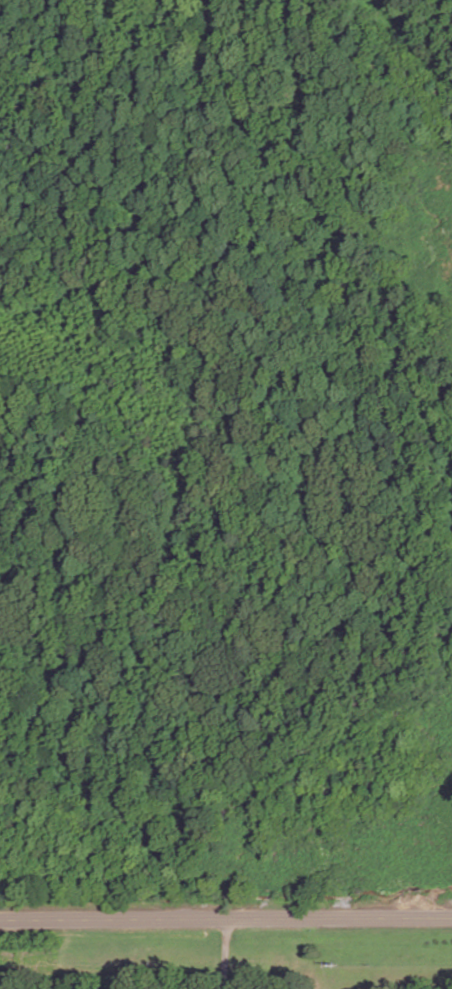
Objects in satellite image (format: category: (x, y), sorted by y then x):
road: (226, 919)
road: (223, 954)
road: (201, 973)

